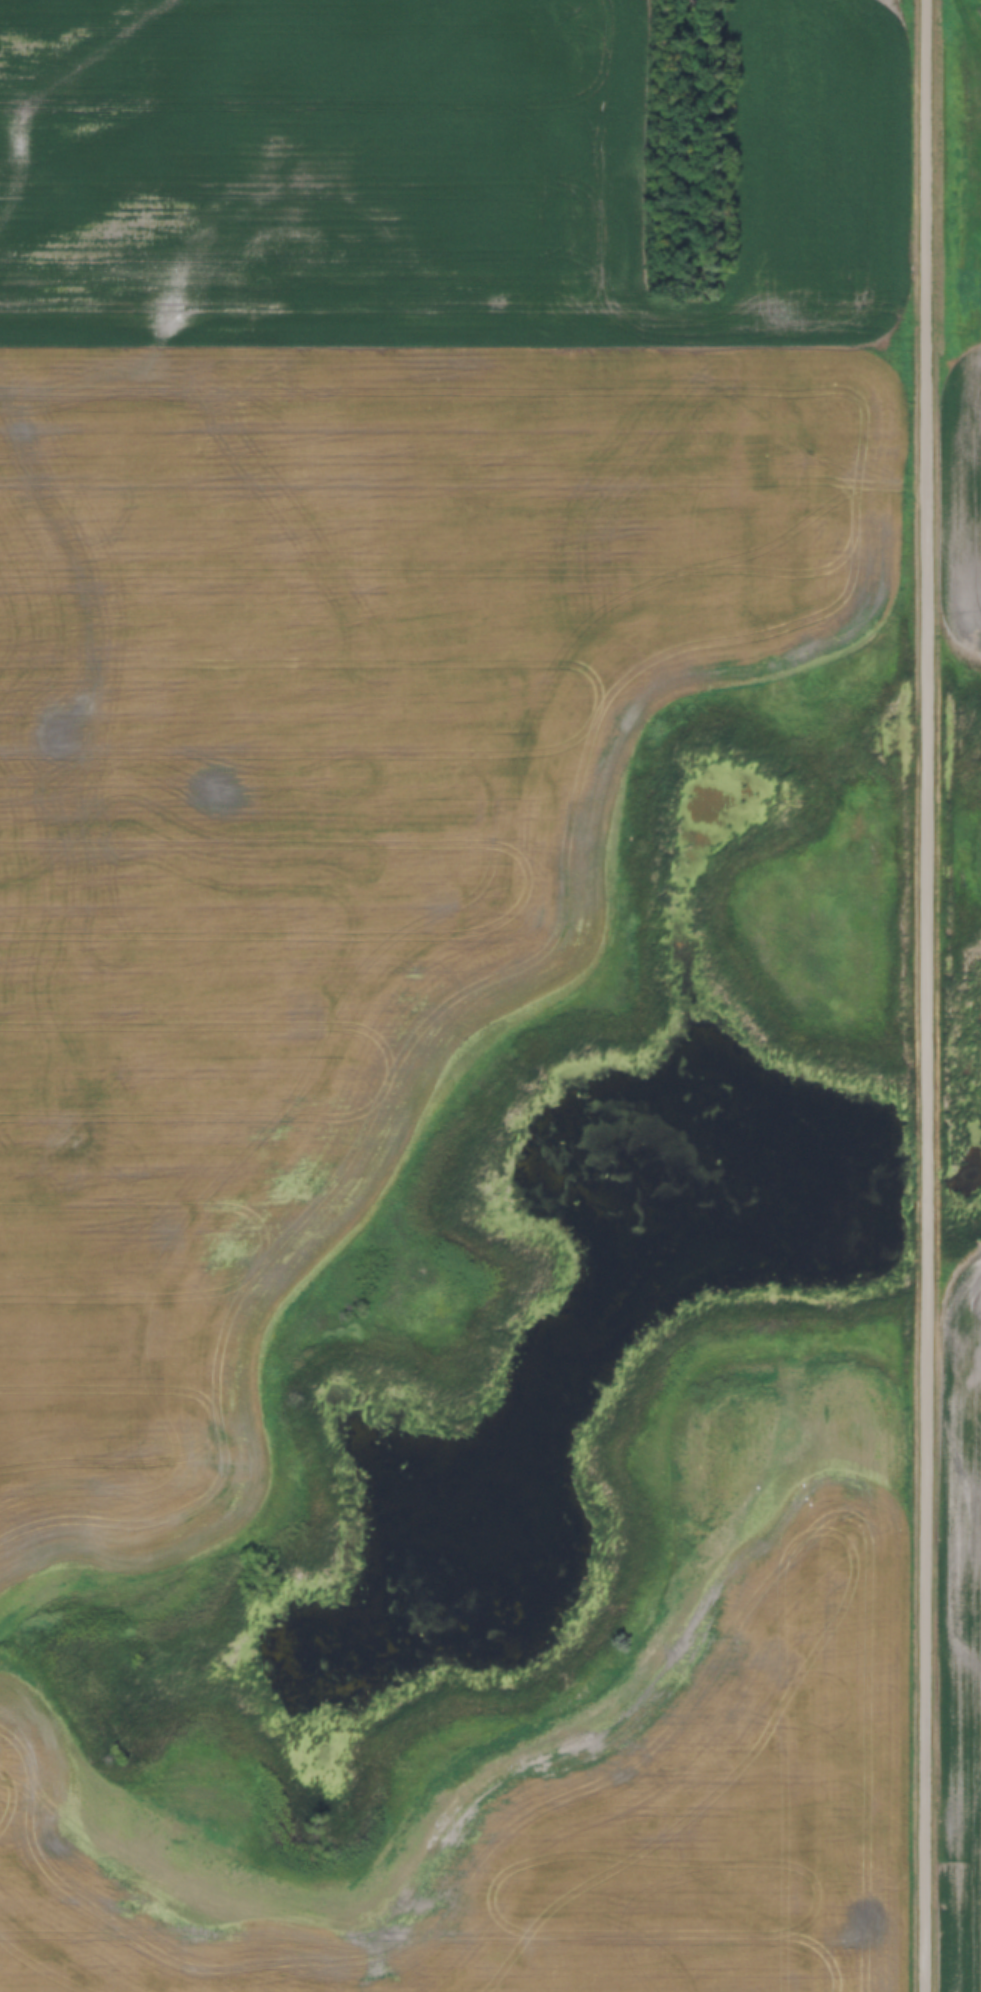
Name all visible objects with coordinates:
road: (925, 996)

